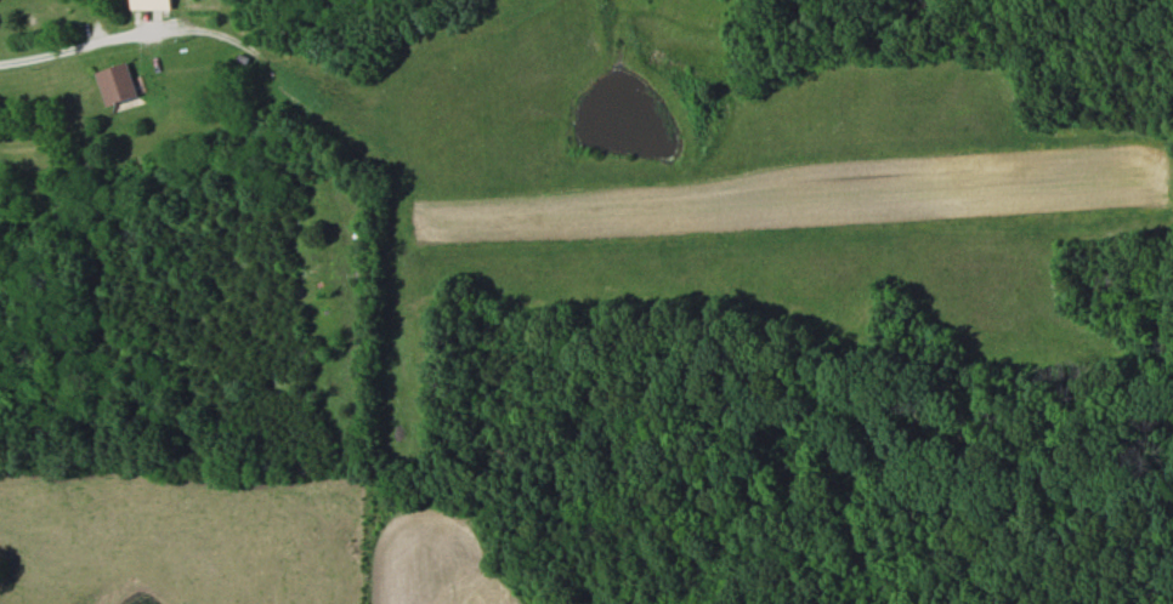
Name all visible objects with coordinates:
building: (149, 5)
road: (81, 44)
building: (115, 85)

